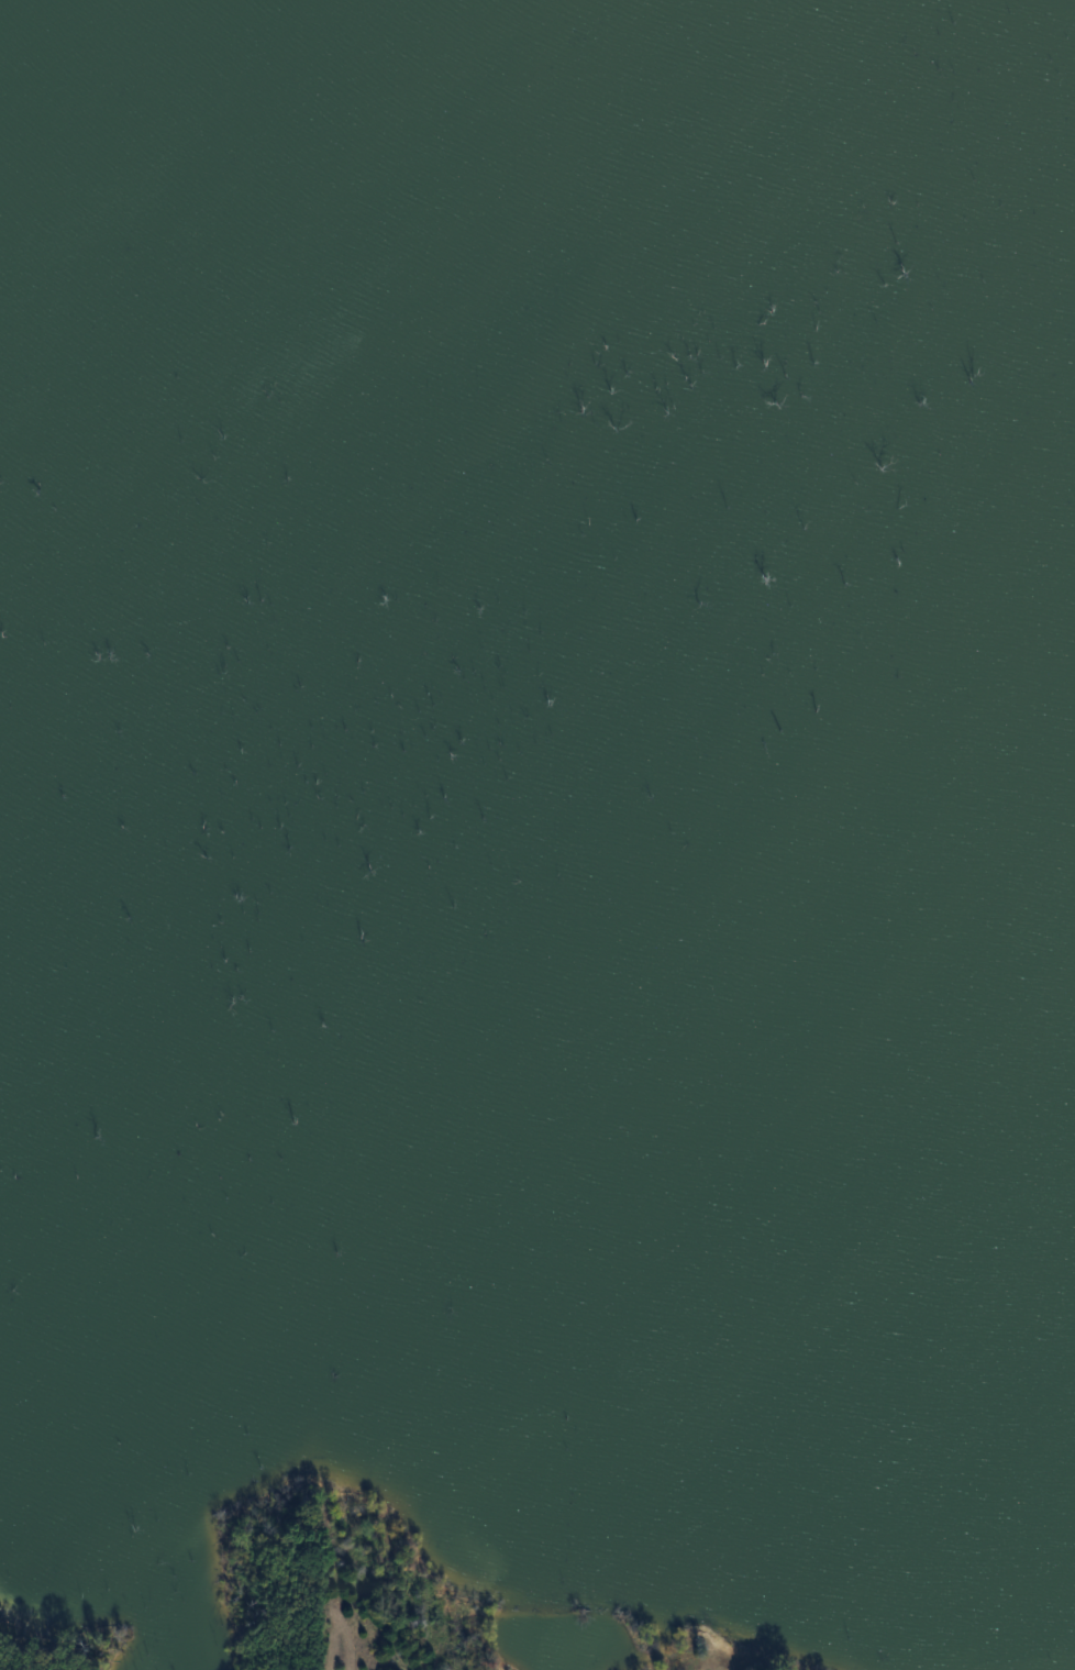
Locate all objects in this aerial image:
building: (879, 631)
building: (1019, 1537)

